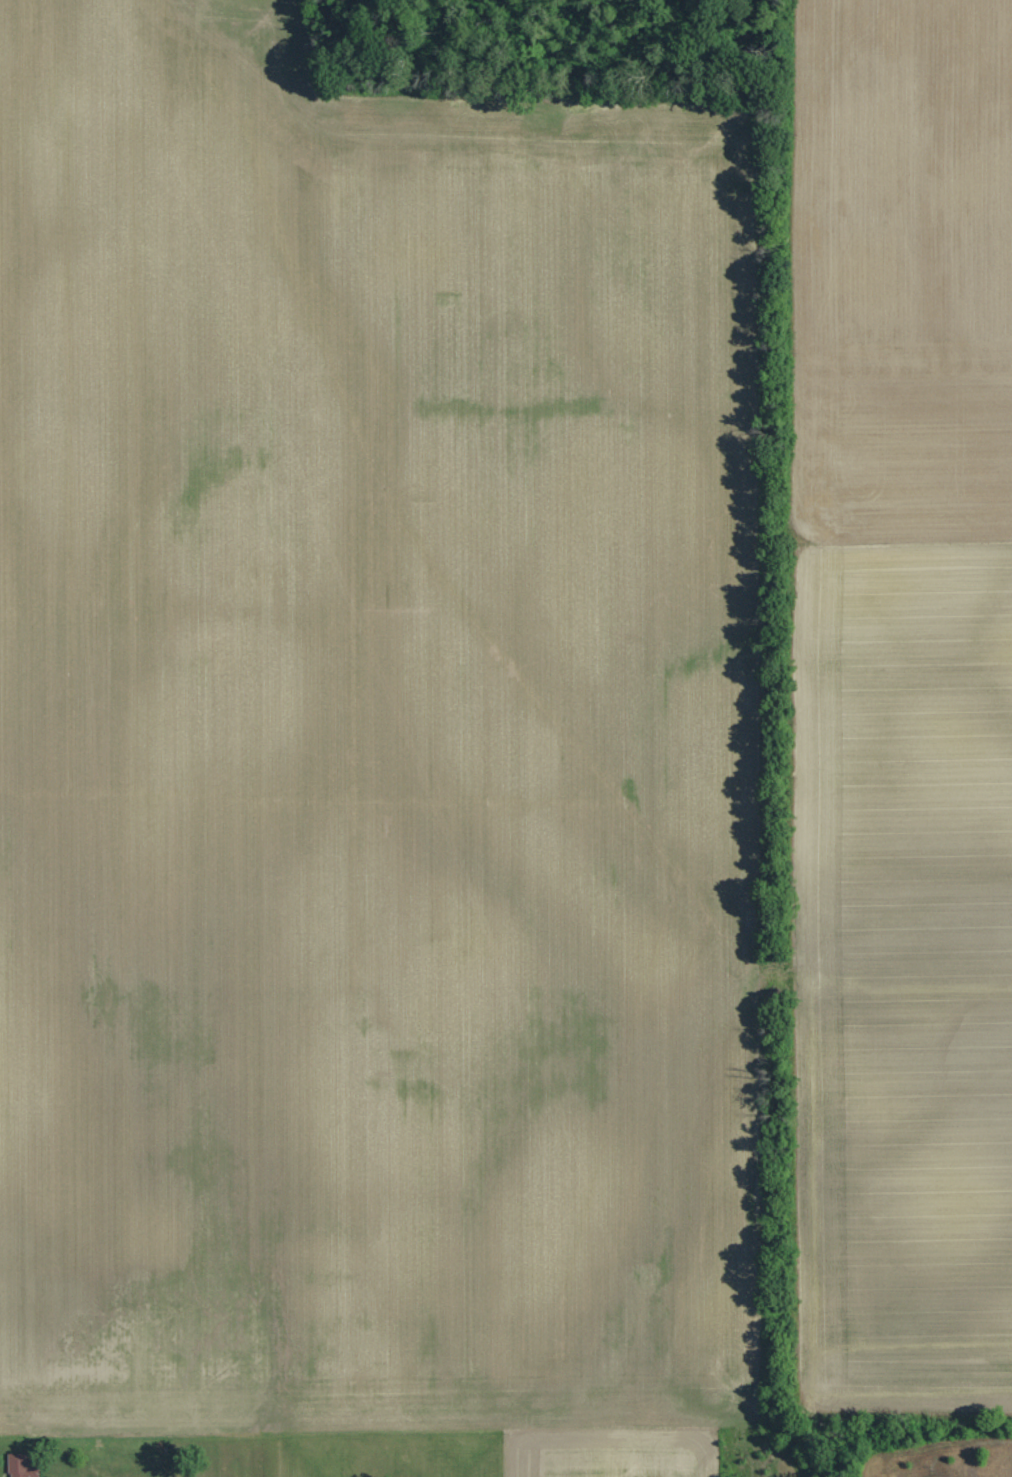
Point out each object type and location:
building: (23, 1466)

